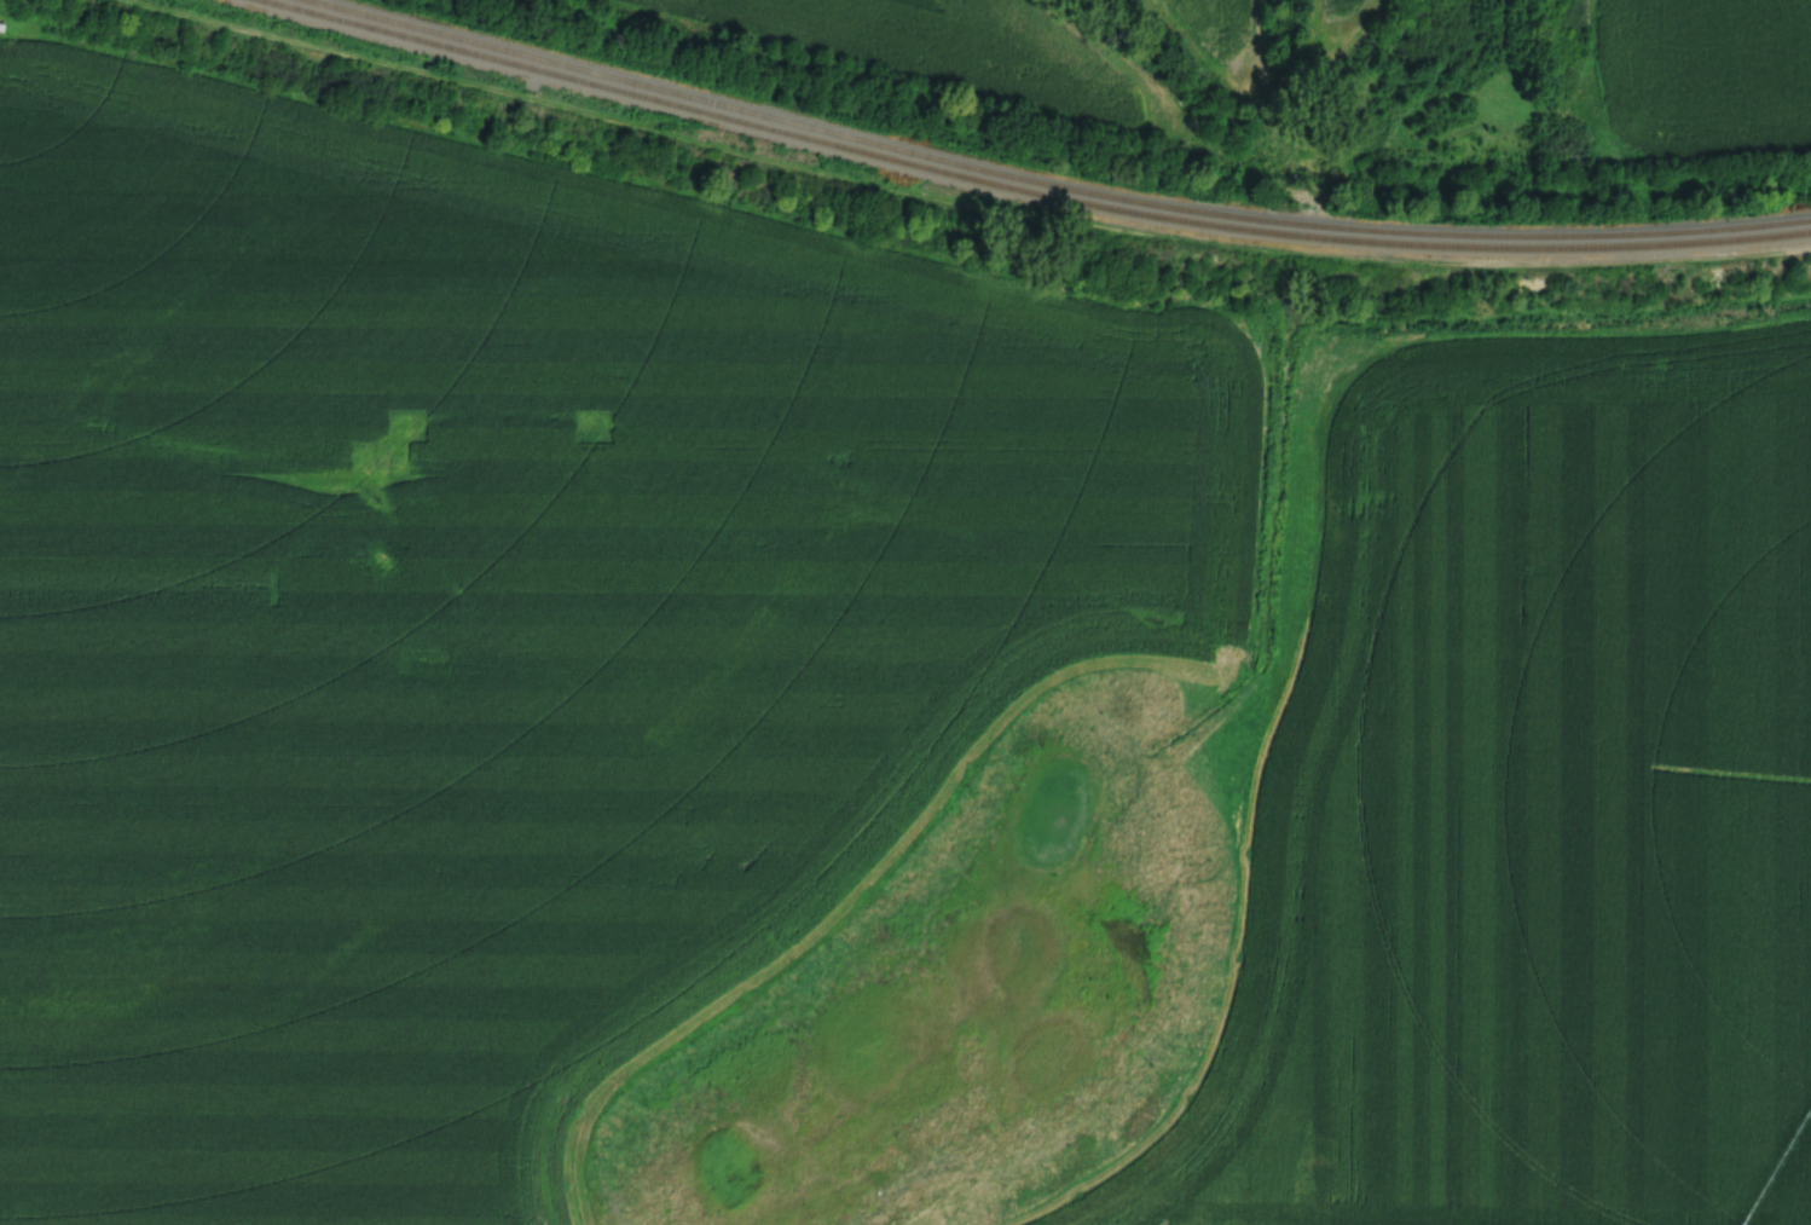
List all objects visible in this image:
railway: (1049, 184)
railway: (1028, 191)

